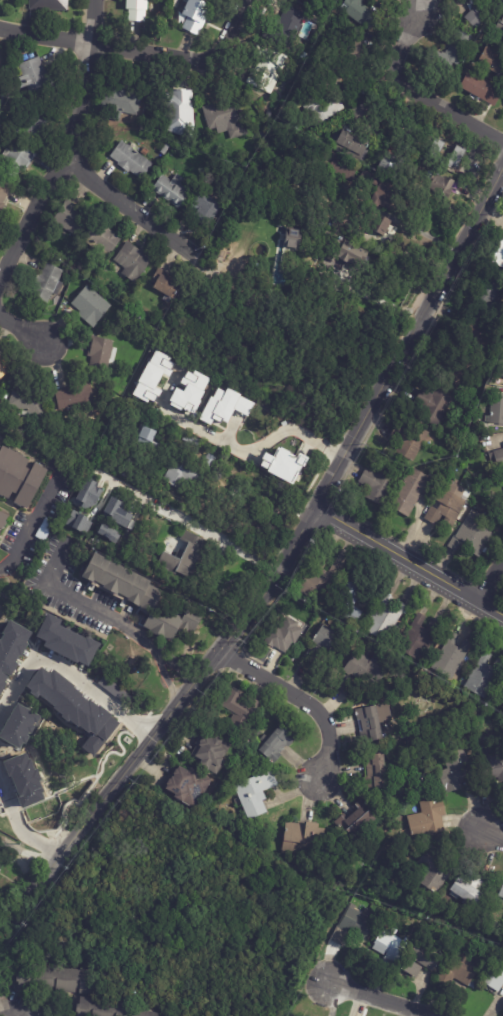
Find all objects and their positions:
building: (310, 2)
building: (49, 5)
building: (138, 10)
building: (361, 13)
building: (479, 13)
building: (196, 15)
building: (501, 19)
road: (91, 22)
building: (291, 22)
building: (500, 30)
road: (45, 37)
building: (352, 49)
building: (459, 49)
building: (303, 56)
road: (184, 58)
building: (492, 58)
building: (268, 70)
building: (314, 76)
building: (36, 77)
building: (481, 89)
road: (418, 93)
building: (3, 100)
building: (122, 102)
building: (309, 102)
building: (180, 114)
building: (371, 116)
building: (225, 121)
building: (34, 124)
building: (262, 137)
building: (354, 146)
building: (165, 149)
building: (448, 155)
building: (17, 160)
building: (131, 161)
building: (470, 163)
road: (58, 164)
building: (391, 166)
building: (342, 168)
building: (442, 187)
building: (173, 189)
building: (379, 193)
building: (3, 195)
road: (126, 207)
building: (206, 210)
building: (72, 218)
building: (387, 231)
building: (292, 238)
building: (102, 240)
building: (500, 252)
building: (353, 254)
building: (132, 262)
building: (97, 282)
building: (48, 284)
building: (167, 284)
building: (489, 289)
road: (382, 303)
building: (90, 306)
building: (471, 328)
road: (24, 330)
road: (411, 338)
building: (100, 356)
building: (4, 369)
building: (500, 369)
building: (461, 373)
building: (152, 376)
building: (188, 392)
building: (70, 399)
building: (28, 400)
building: (224, 405)
building: (435, 407)
building: (497, 410)
building: (148, 436)
building: (163, 438)
building: (191, 439)
building: (410, 442)
road: (233, 448)
building: (497, 458)
building: (210, 461)
building: (281, 464)
building: (129, 474)
building: (184, 474)
building: (19, 479)
building: (379, 486)
building: (236, 490)
building: (414, 492)
building: (88, 494)
building: (449, 504)
building: (117, 513)
building: (3, 521)
building: (79, 522)
road: (188, 522)
road: (31, 531)
building: (108, 533)
building: (474, 537)
building: (242, 551)
building: (184, 556)
road: (409, 561)
road: (489, 579)
building: (319, 581)
building: (142, 597)
building: (355, 598)
road: (107, 617)
building: (386, 619)
road: (239, 626)
building: (285, 635)
building: (419, 637)
building: (330, 640)
building: (64, 642)
building: (452, 657)
building: (370, 671)
road: (71, 673)
building: (485, 676)
building: (350, 689)
building: (502, 697)
road: (300, 698)
building: (73, 708)
building: (241, 710)
building: (462, 720)
building: (371, 724)
building: (276, 745)
building: (213, 753)
building: (491, 762)
building: (455, 768)
building: (377, 772)
building: (189, 785)
building: (256, 793)
building: (428, 819)
building: (355, 822)
road: (85, 826)
road: (17, 828)
road: (492, 837)
building: (306, 839)
building: (1, 863)
building: (437, 869)
building: (469, 890)
building: (501, 893)
park: (185, 913)
road: (9, 926)
building: (355, 926)
building: (392, 950)
building: (424, 959)
building: (464, 970)
building: (495, 973)
building: (56, 980)
road: (377, 1000)
road: (19, 1005)
building: (102, 1008)
building: (147, 1013)

